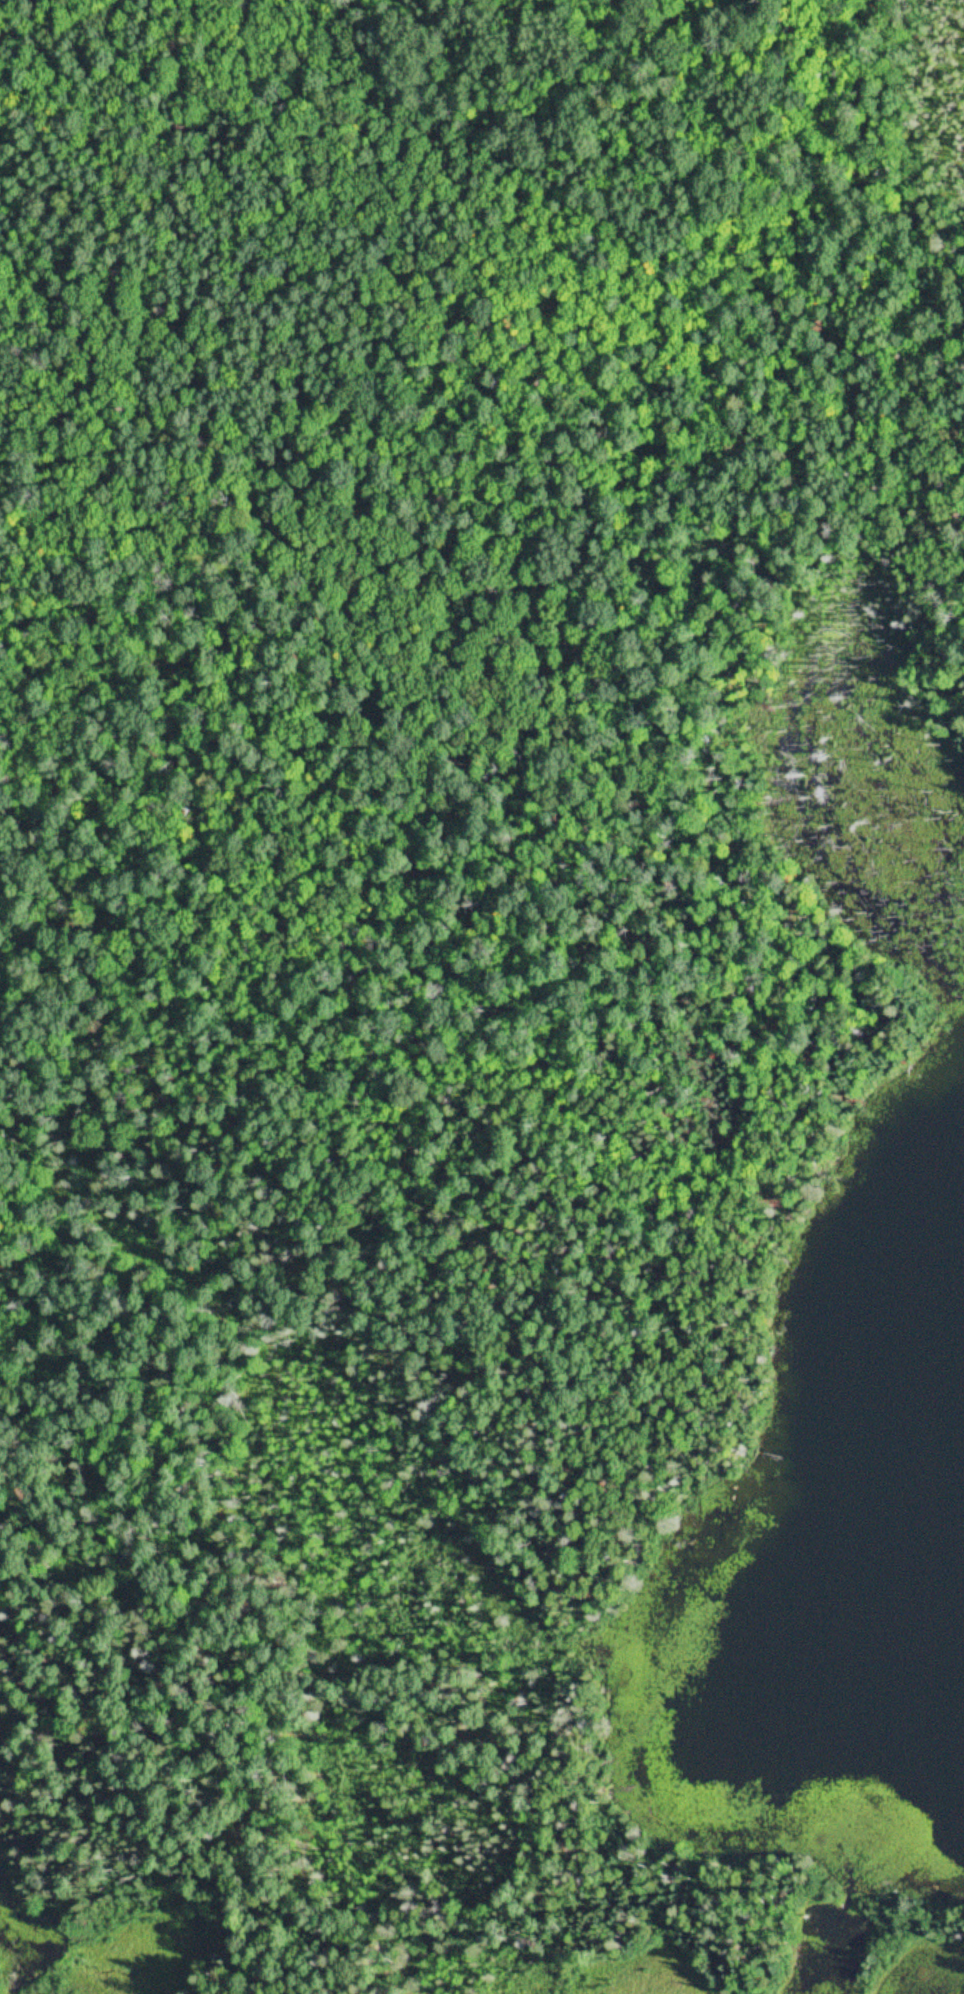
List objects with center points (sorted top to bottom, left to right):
road: (468, 1924)

